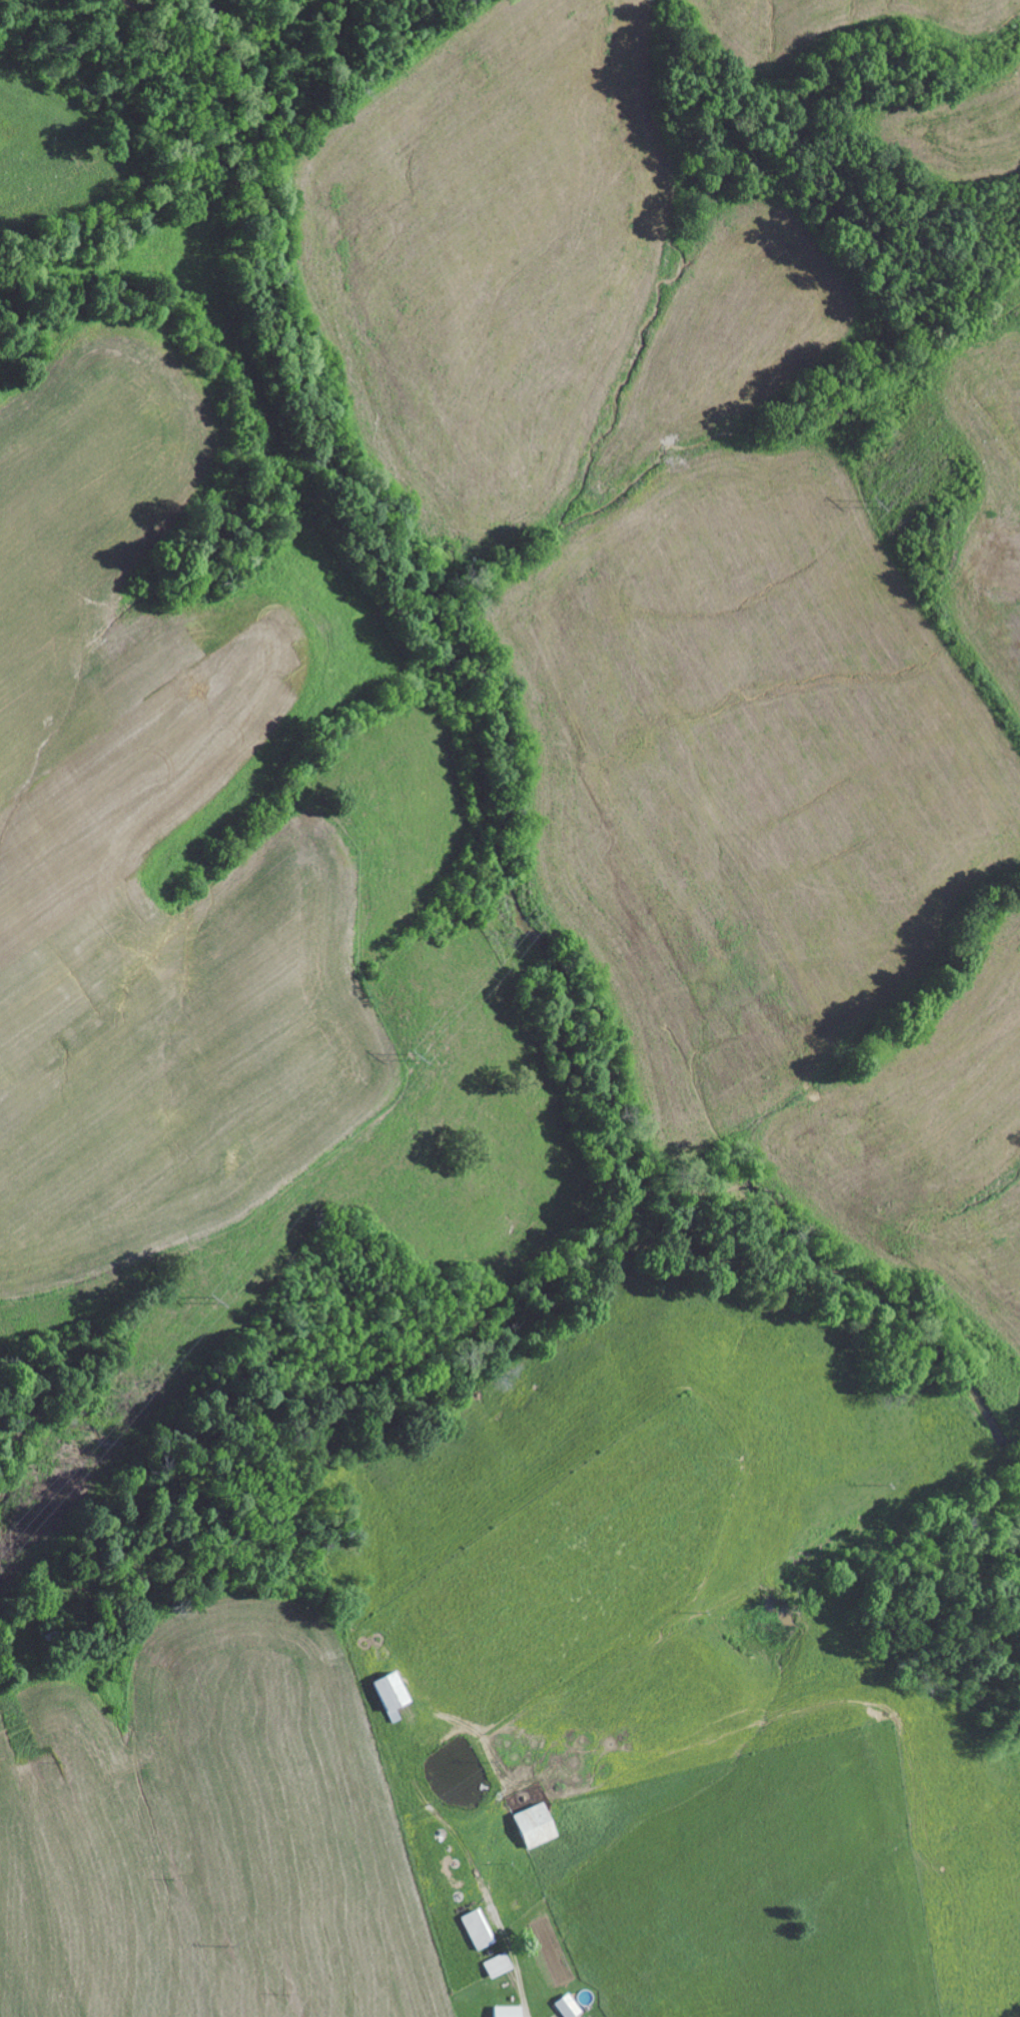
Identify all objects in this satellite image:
building: (384, 1695)
building: (528, 1826)
road: (583, 1867)
building: (473, 1930)
building: (494, 1966)
building: (563, 2006)
building: (504, 2012)
building: (577, 2016)

